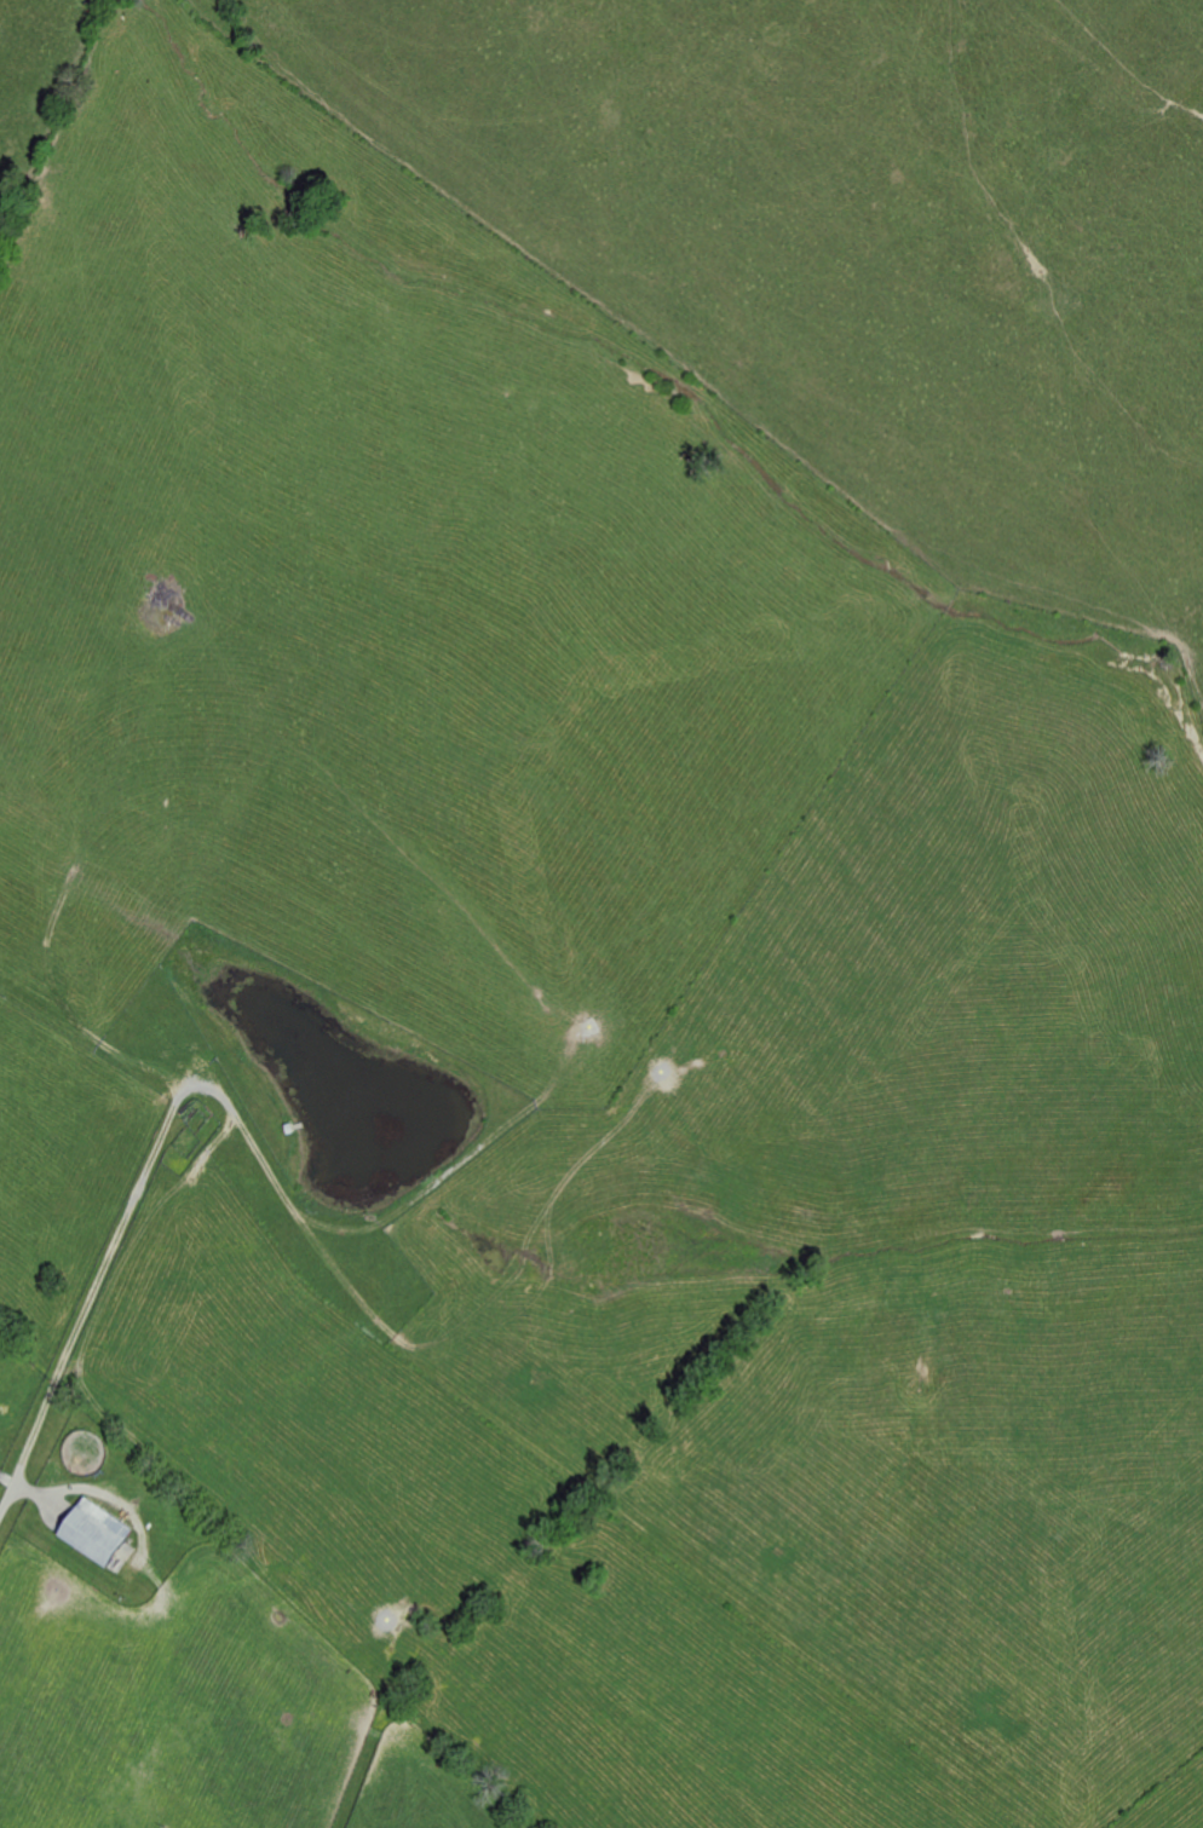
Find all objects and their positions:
road: (4, 1501)
building: (88, 1530)

